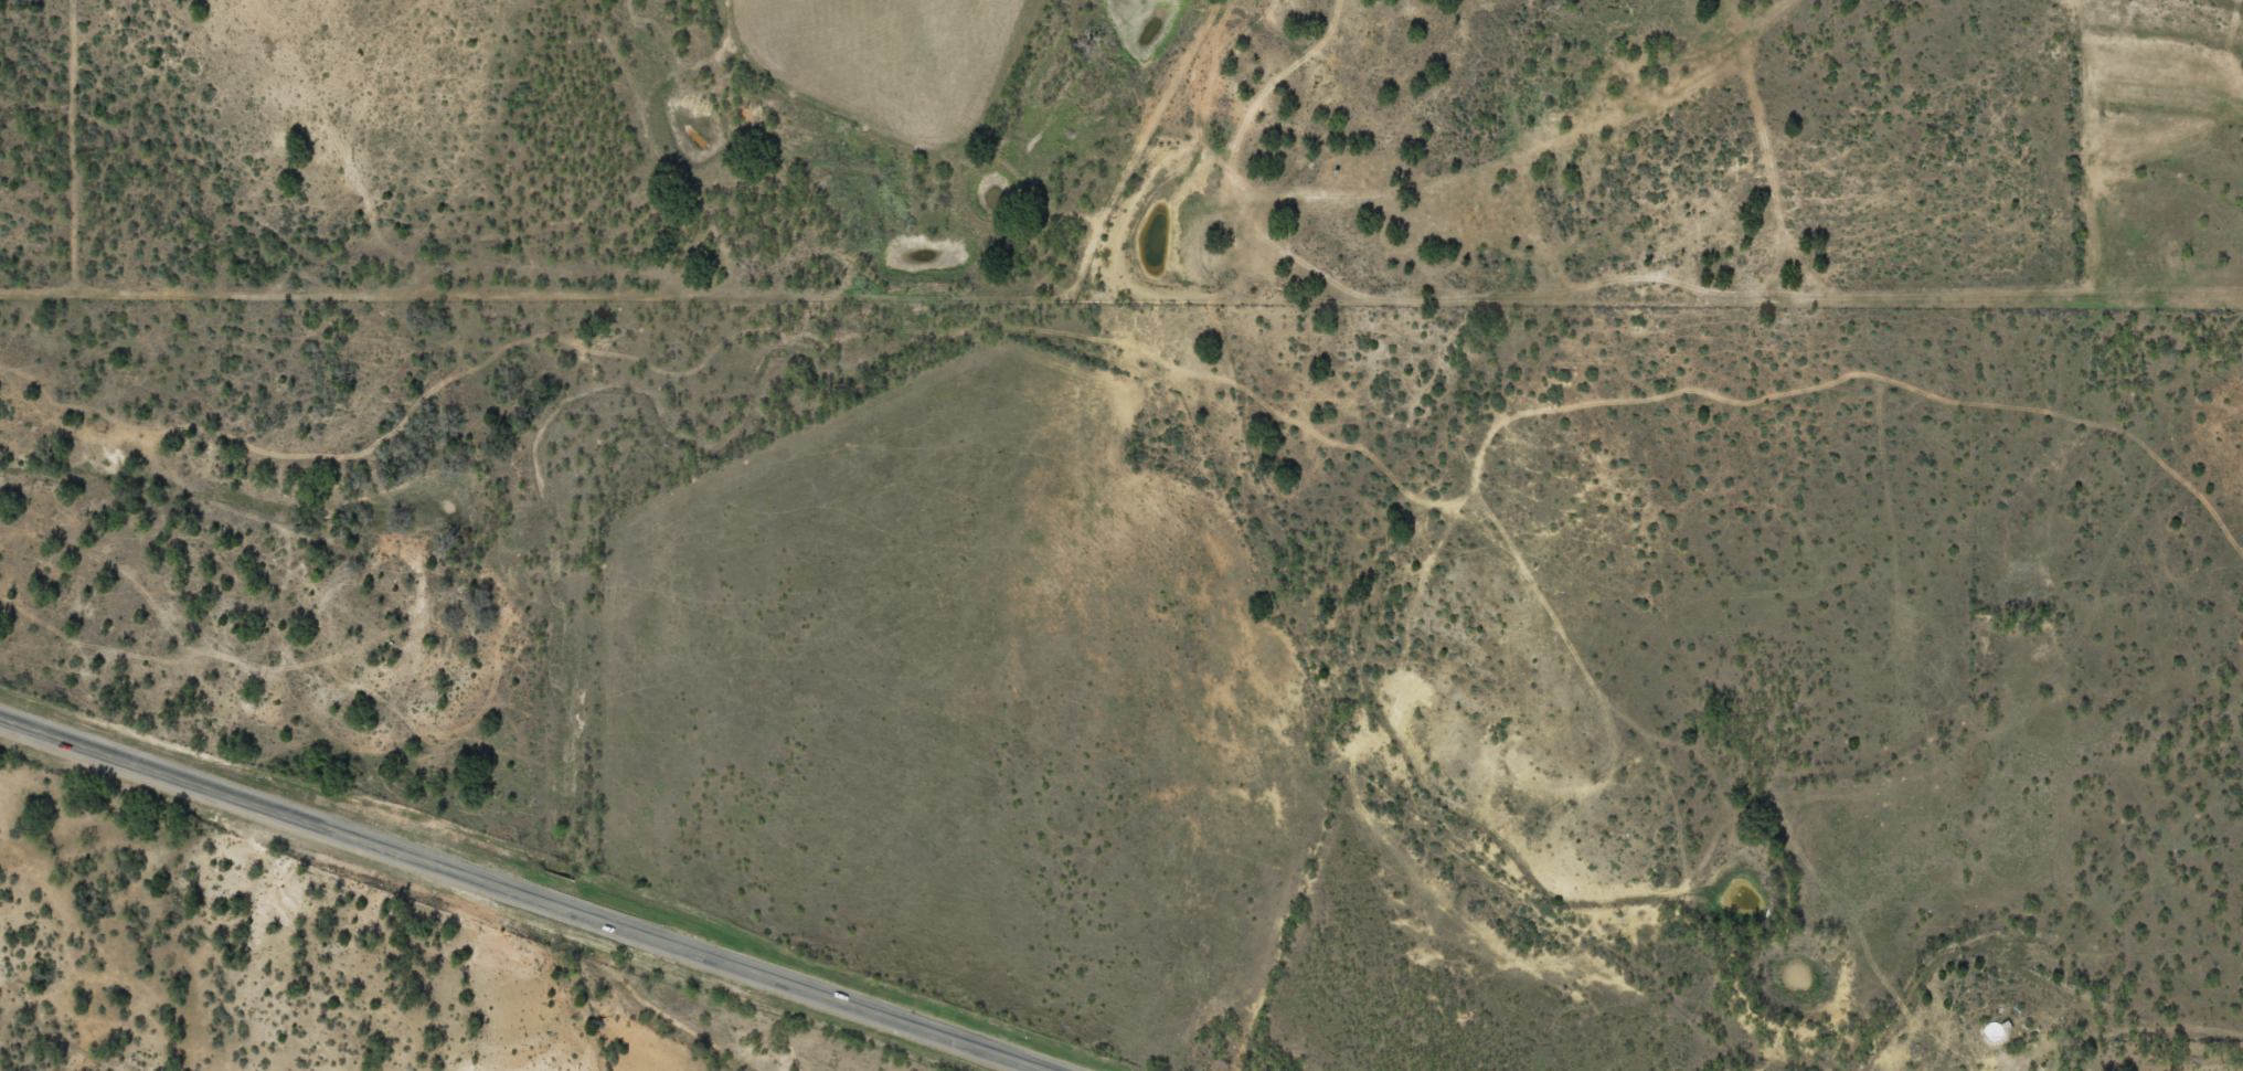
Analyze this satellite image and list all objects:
road: (1549, 146)
road: (518, 898)

